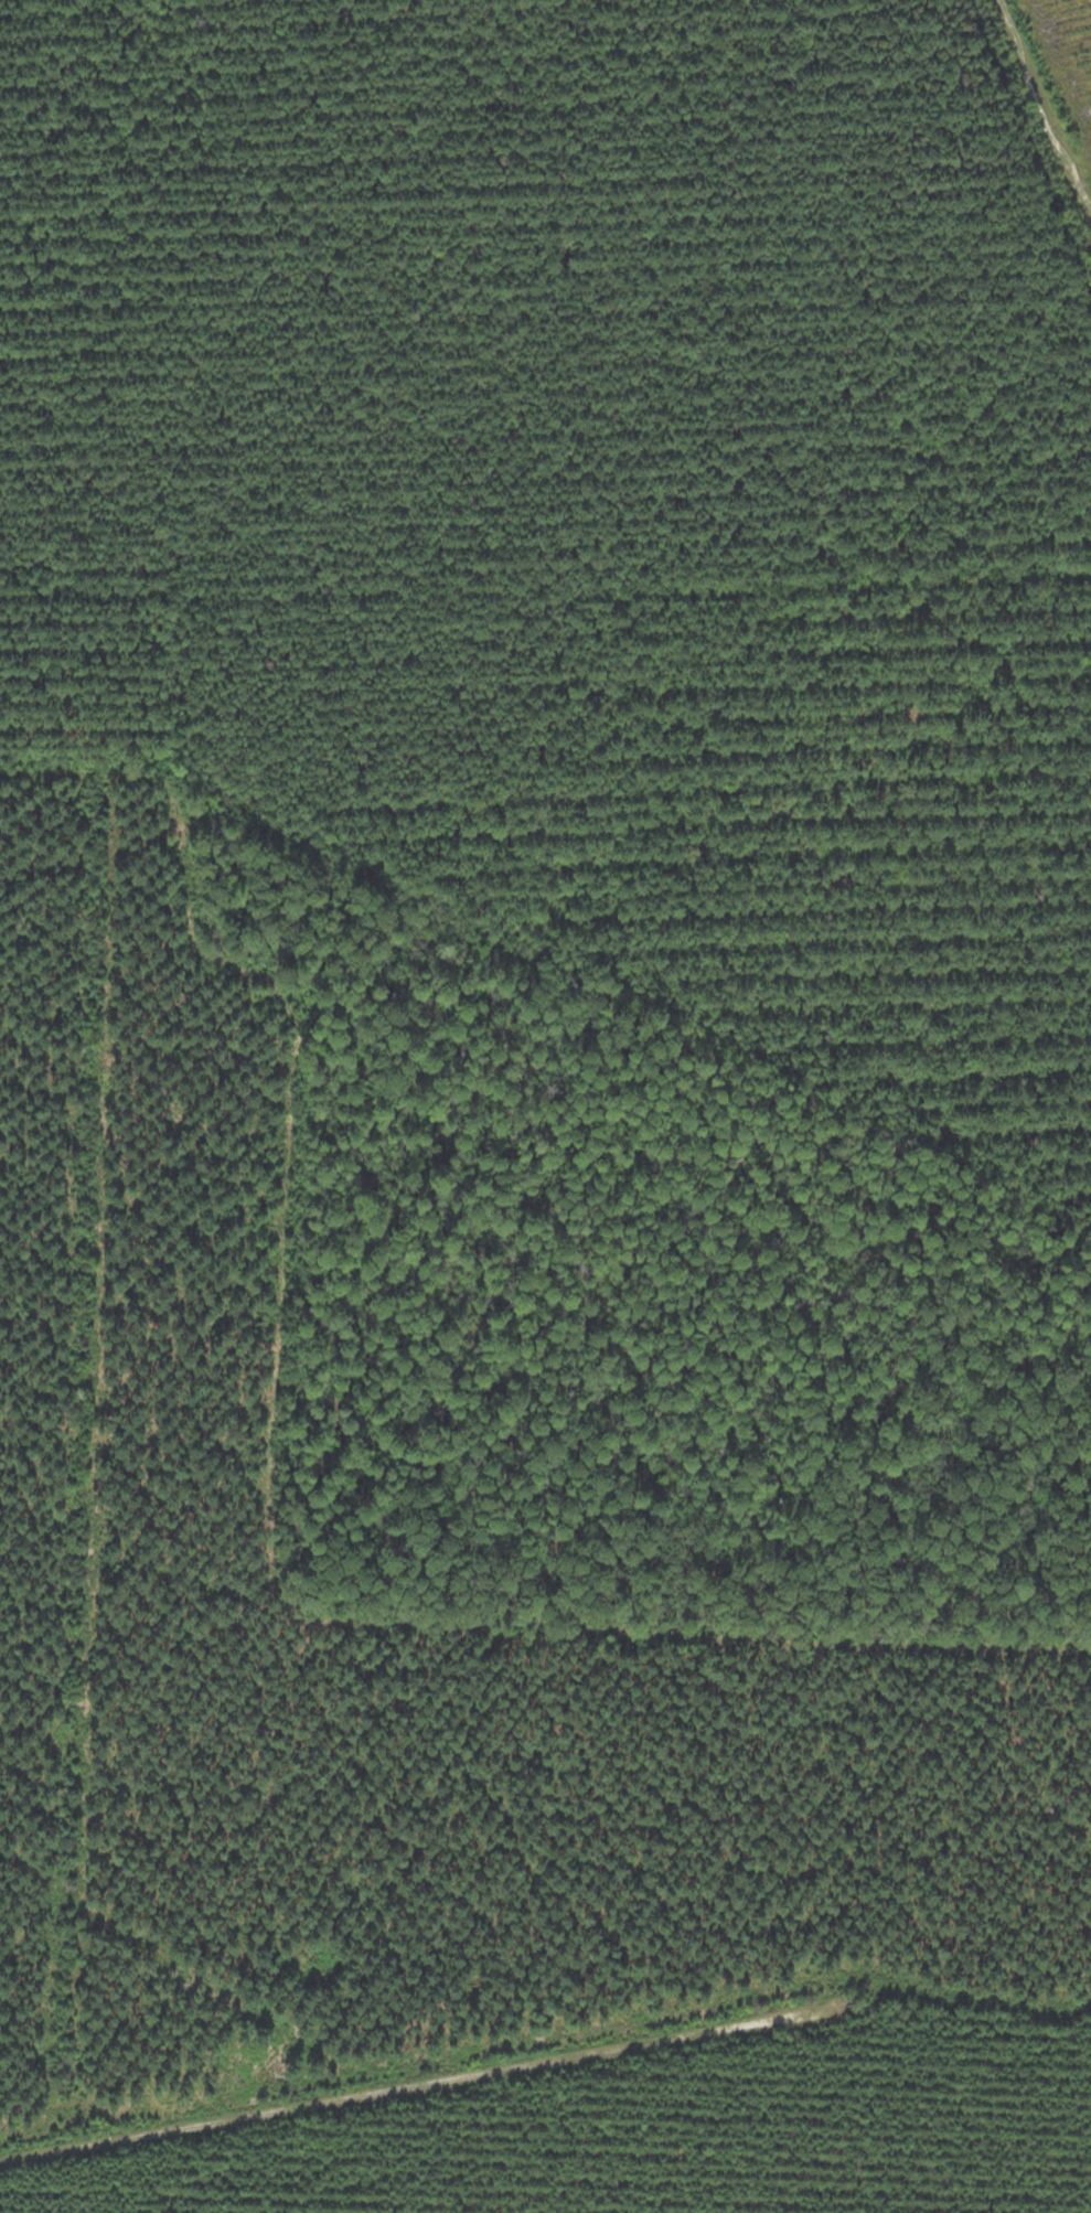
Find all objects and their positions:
road: (1051, 89)

